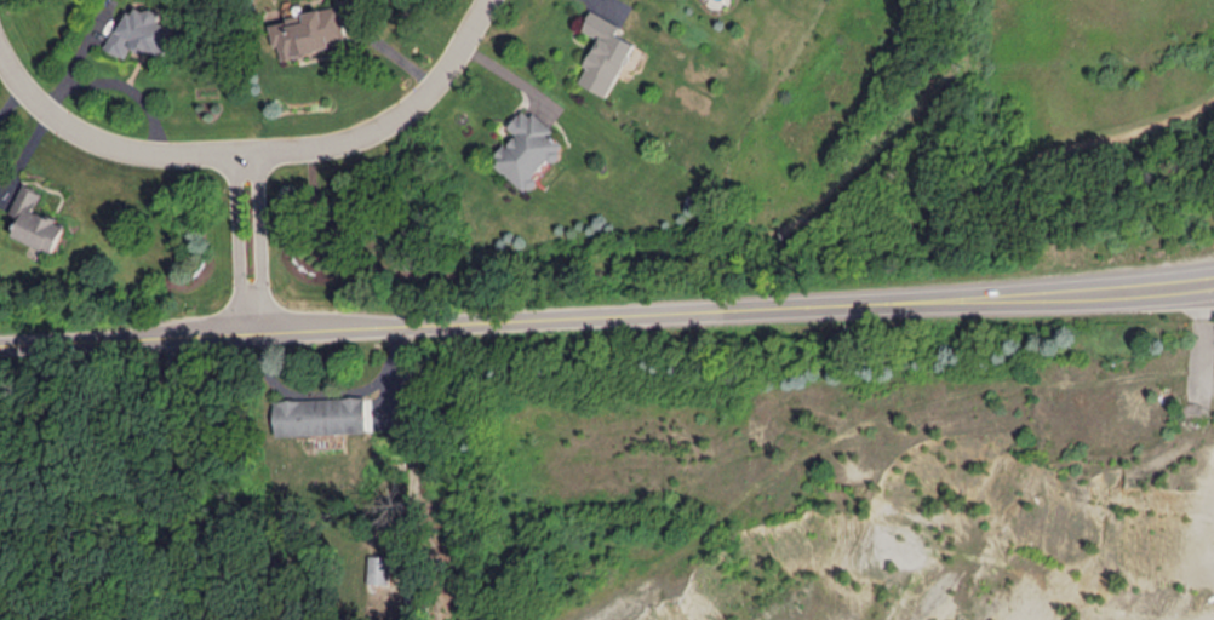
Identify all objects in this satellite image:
building: (142, 30)
building: (311, 31)
building: (603, 53)
road: (394, 121)
road: (105, 144)
building: (526, 148)
building: (36, 220)
road: (262, 240)
road: (234, 241)
road: (733, 308)
road: (188, 334)
road: (63, 343)
road: (323, 389)
building: (320, 414)
road: (156, 478)
building: (377, 568)

